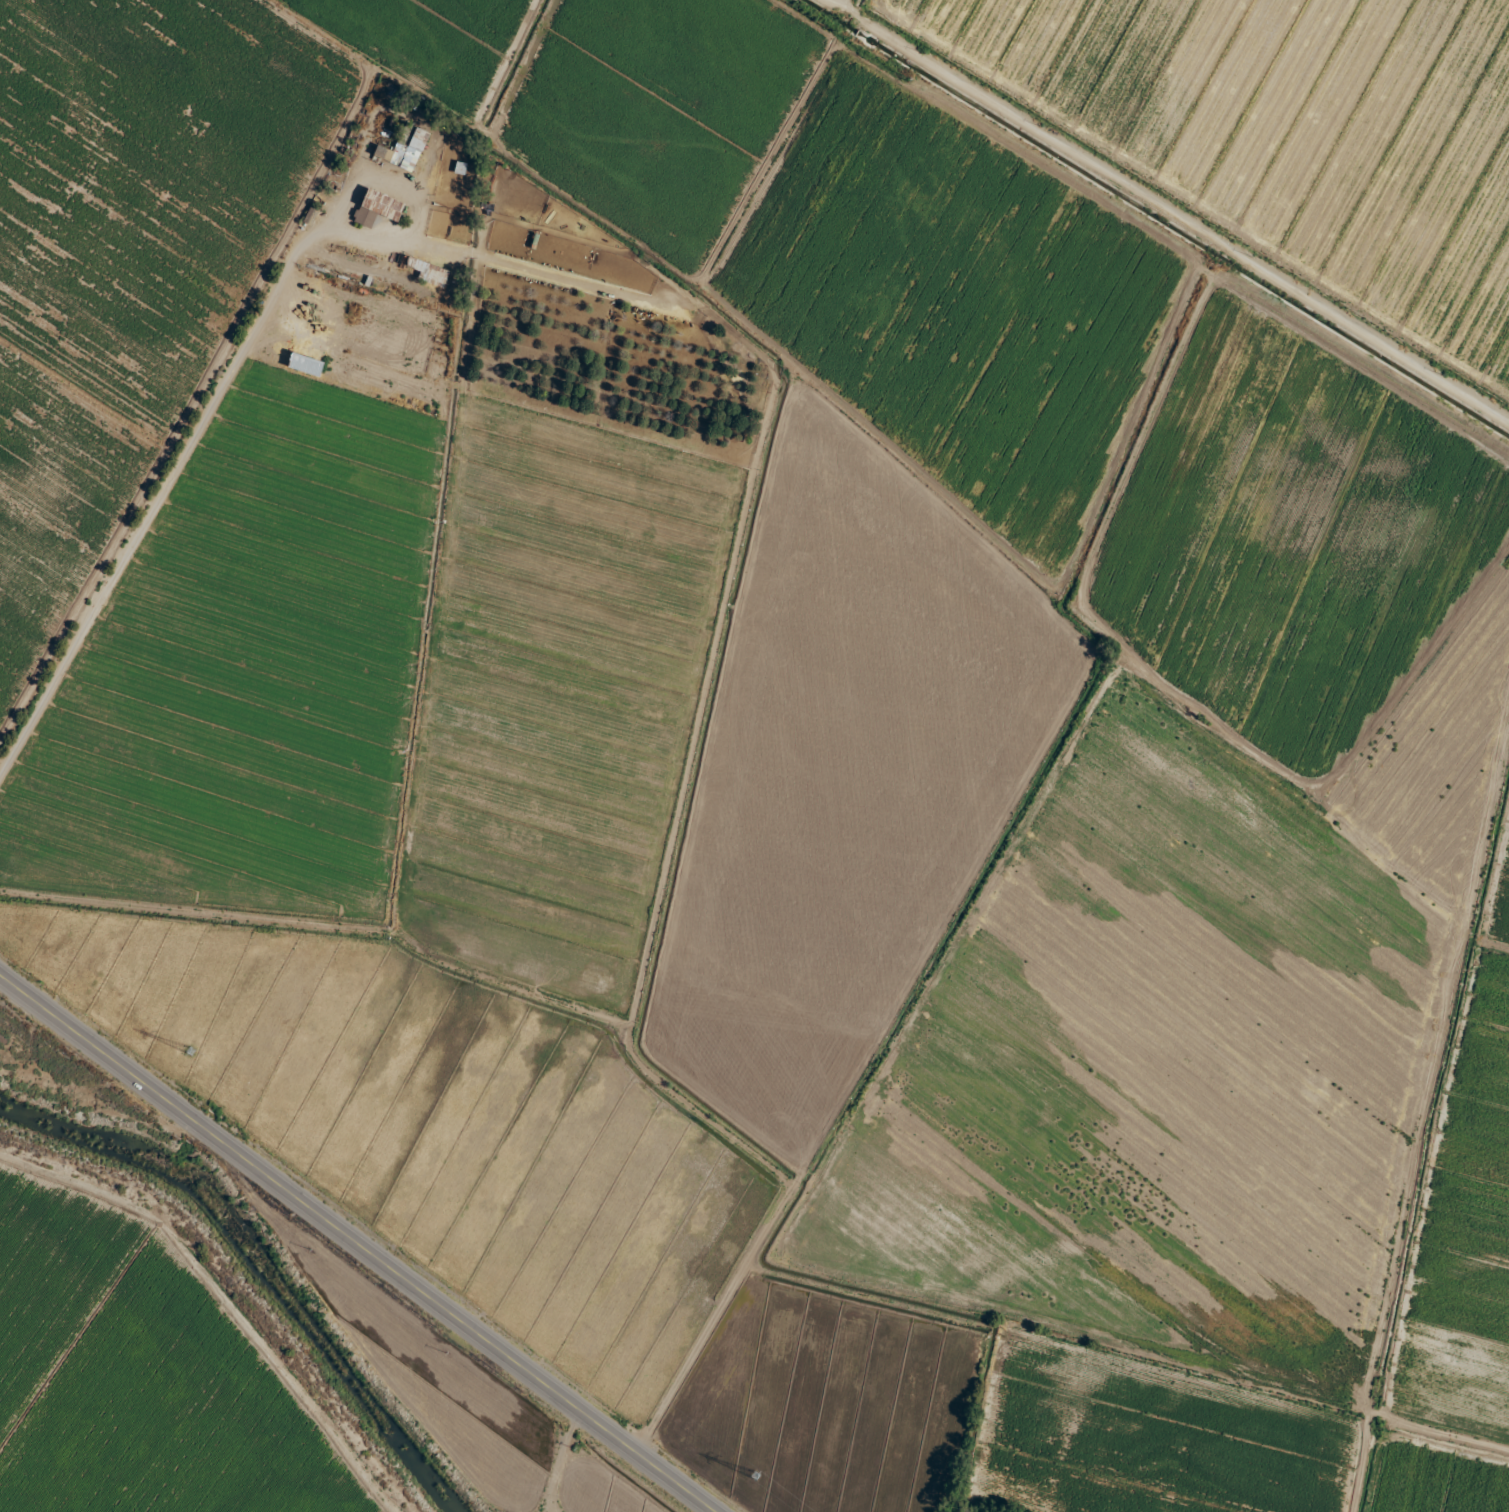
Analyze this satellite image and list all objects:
road: (1439, 1427)

